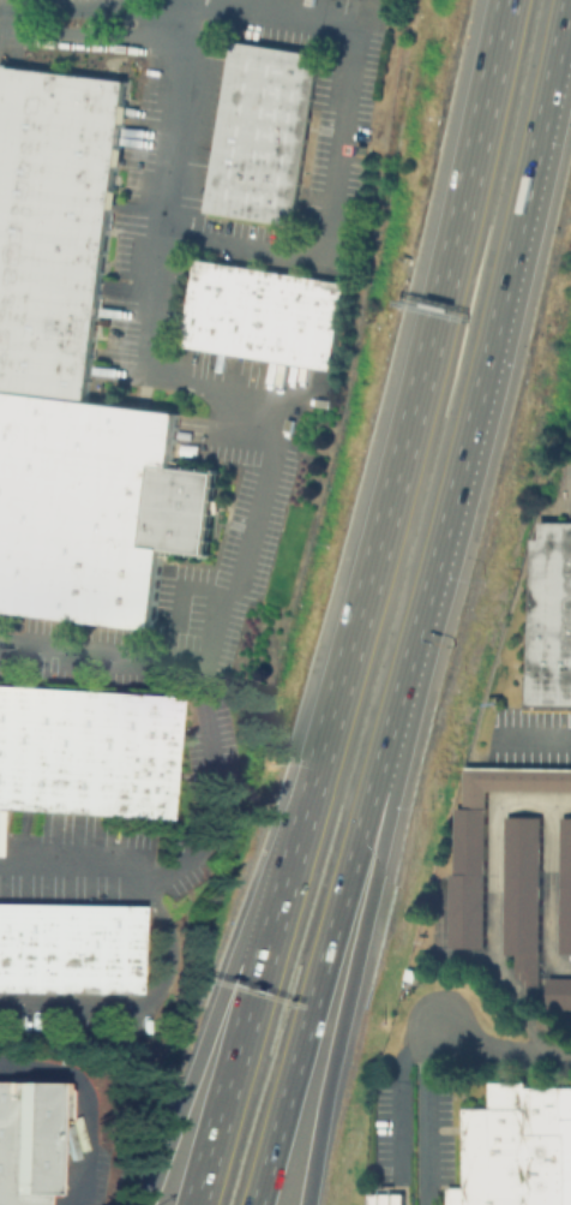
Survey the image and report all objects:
road: (94, 8)
road: (2, 26)
railway: (4, 30)
road: (92, 35)
building: (265, 135)
road: (339, 150)
building: (54, 226)
building: (266, 316)
road: (423, 356)
road: (488, 359)
road: (161, 372)
road: (570, 478)
building: (92, 509)
building: (548, 619)
road: (102, 652)
road: (539, 735)
building: (82, 753)
road: (209, 754)
building: (483, 842)
road: (73, 859)
building: (565, 883)
building: (522, 895)
building: (67, 949)
road: (233, 955)
road: (263, 958)
road: (324, 960)
road: (354, 960)
building: (408, 973)
building: (559, 992)
road: (138, 1002)
road: (503, 1055)
road: (398, 1091)
road: (77, 1104)
road: (428, 1114)
building: (23, 1137)
building: (516, 1147)
building: (384, 1199)

